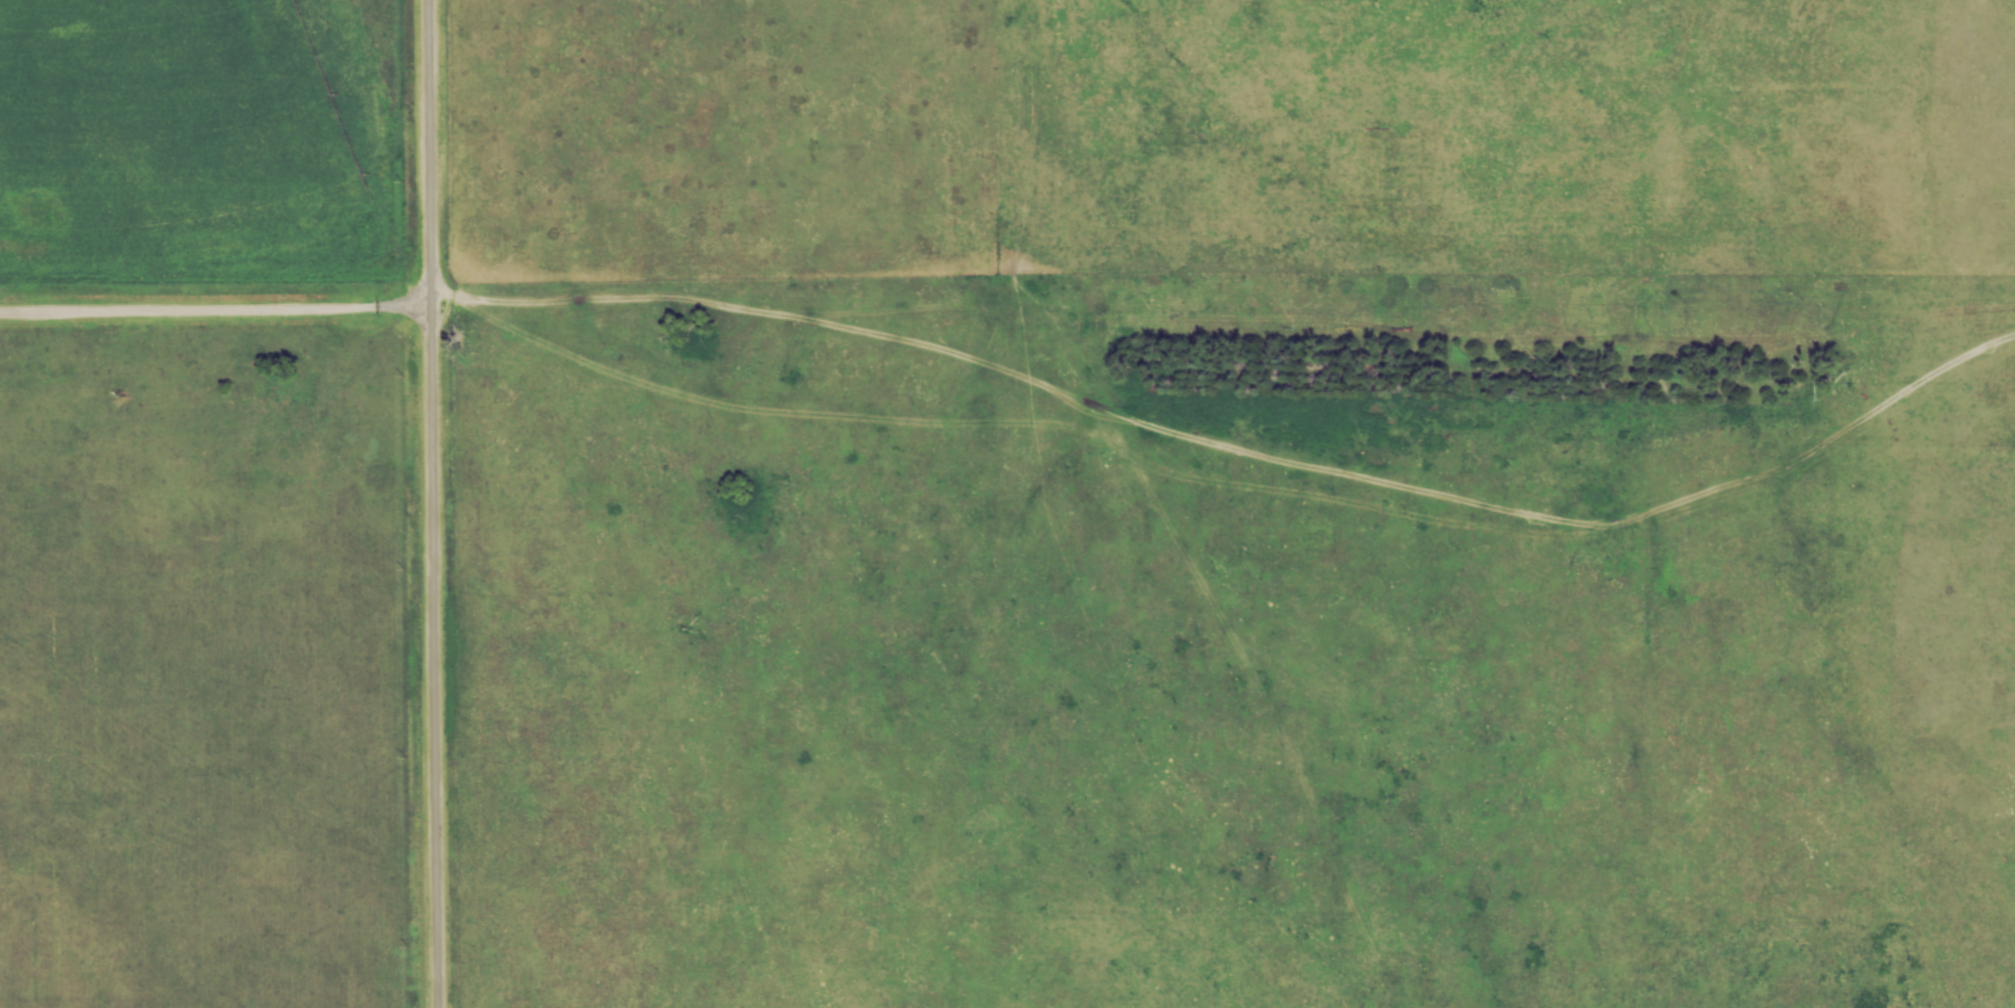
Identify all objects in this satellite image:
road: (211, 316)
road: (426, 504)

